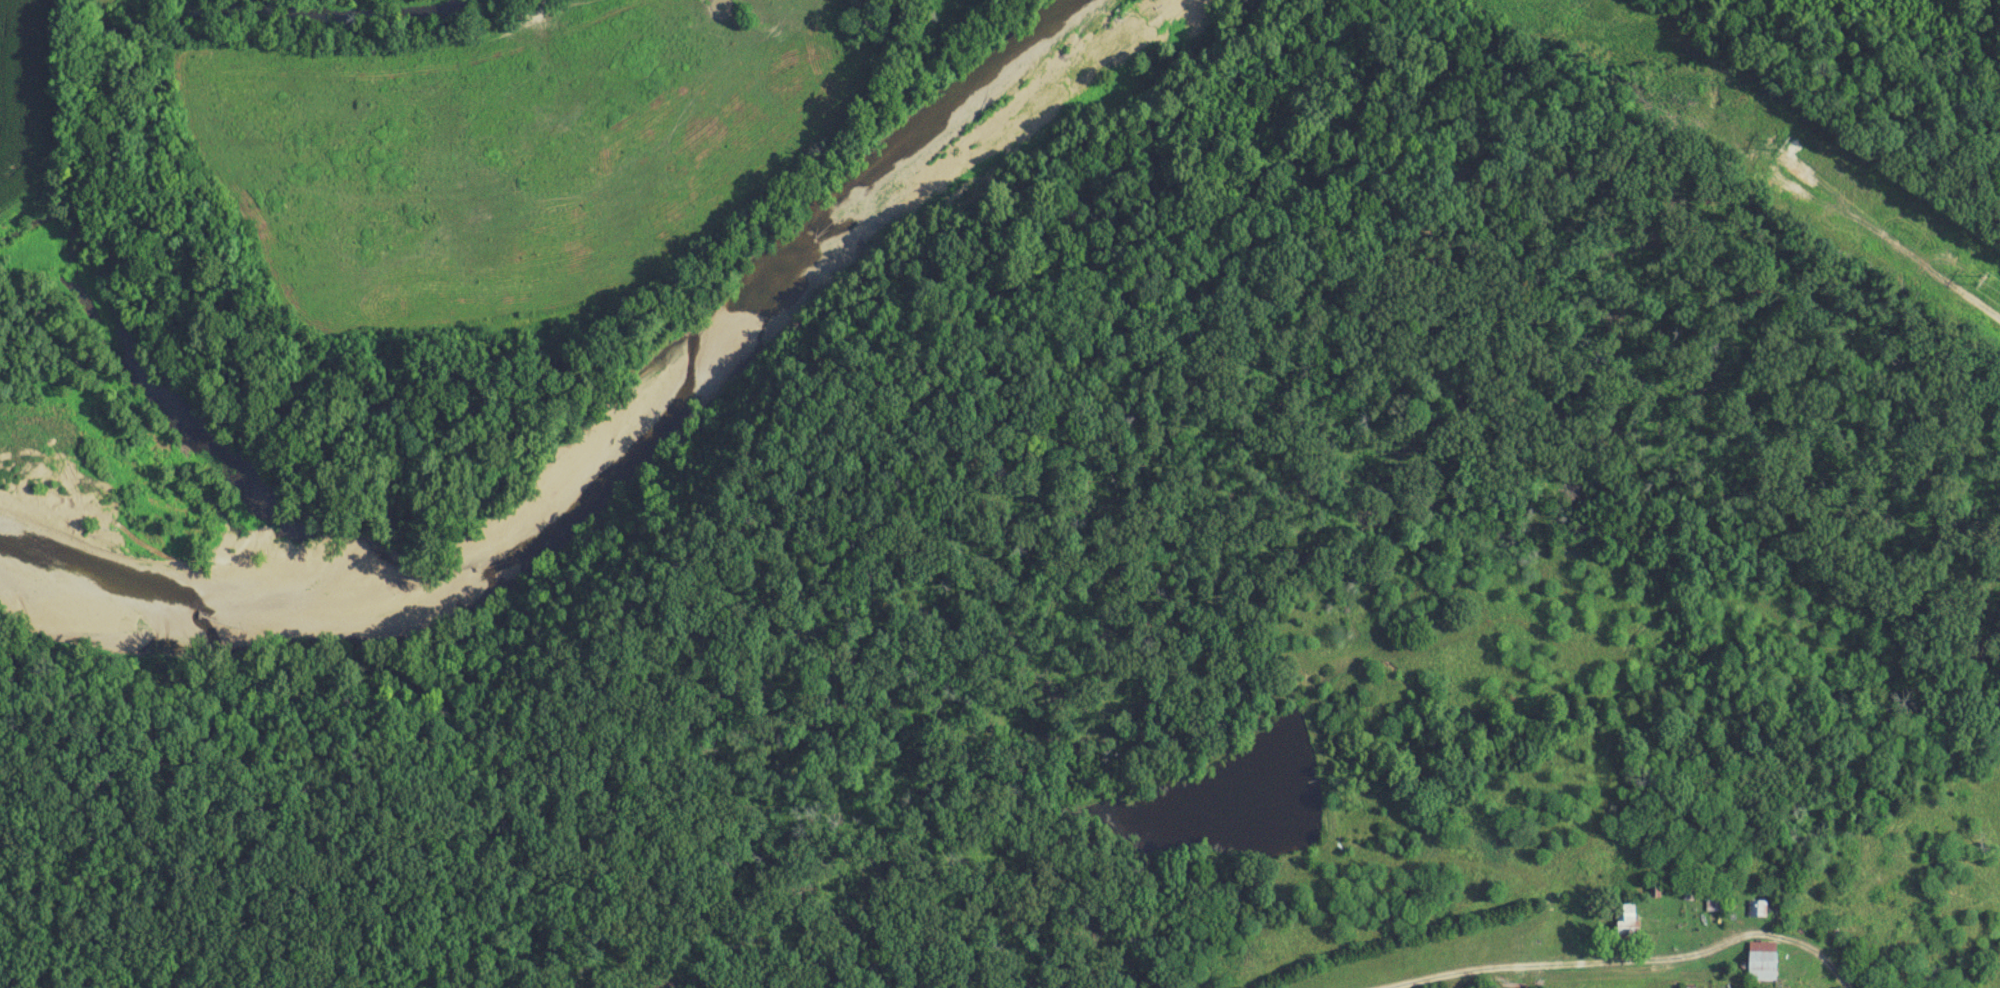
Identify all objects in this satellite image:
power tower: (1776, 142)
power tower: (1949, 259)
building: (1713, 904)
building: (1757, 907)
building: (1626, 919)
building: (1761, 960)
road: (1582, 969)

